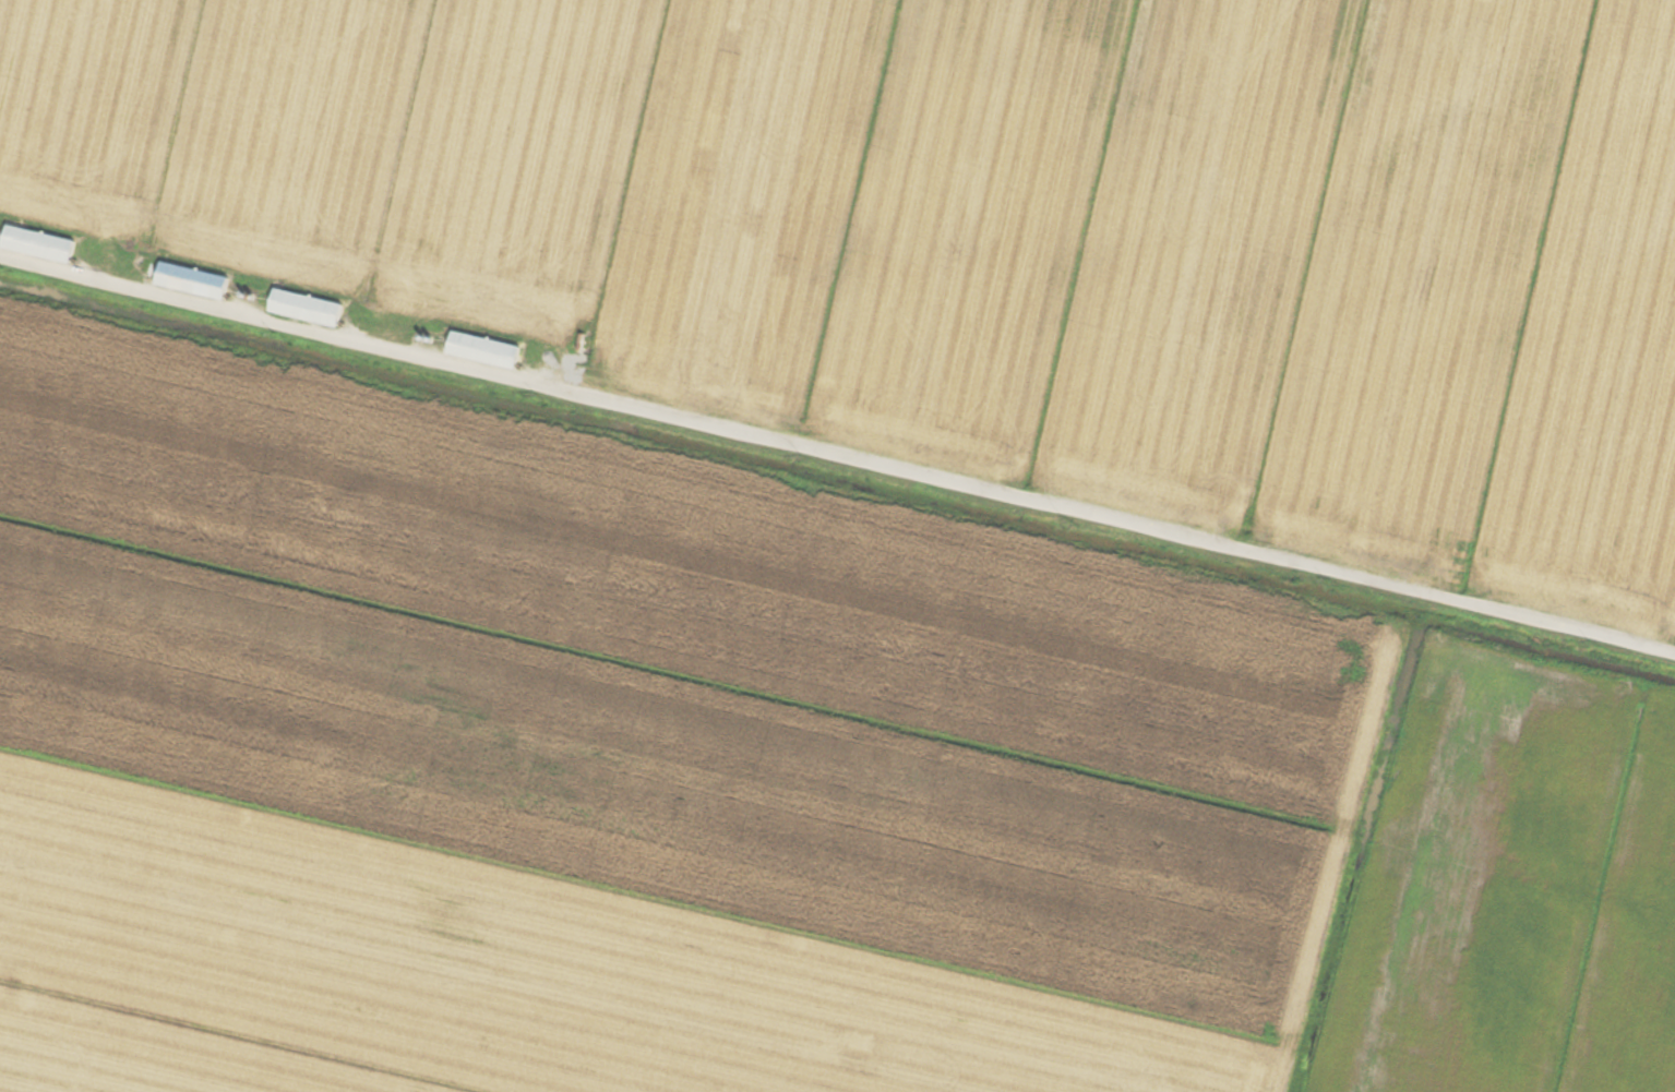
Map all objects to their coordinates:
building: (41, 244)
building: (195, 281)
building: (309, 308)
building: (487, 350)
road: (837, 452)

